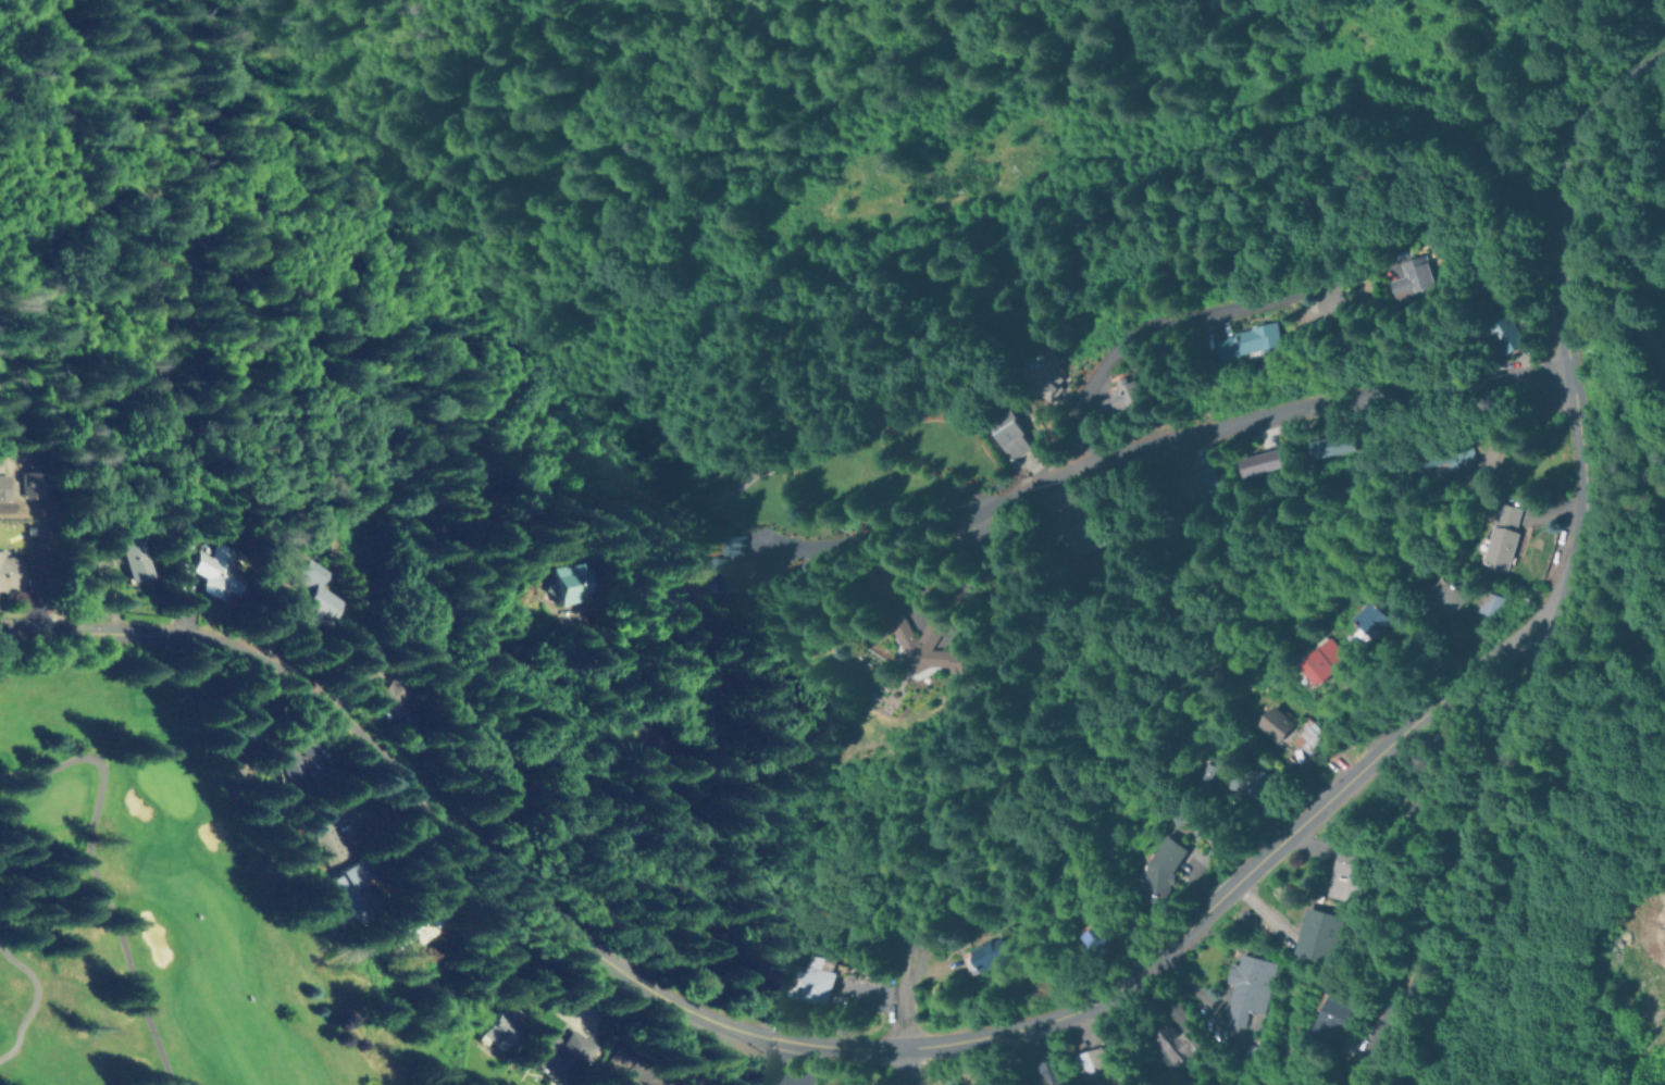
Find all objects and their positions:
building: (1405, 275)
building: (1492, 326)
building: (1247, 337)
building: (1044, 374)
building: (1121, 397)
road: (1229, 428)
building: (1009, 433)
building: (1328, 445)
building: (1428, 454)
building: (1259, 459)
building: (35, 484)
building: (1192, 484)
building: (4, 487)
building: (1076, 527)
building: (1490, 536)
building: (139, 550)
building: (695, 565)
road: (1549, 565)
building: (229, 566)
building: (8, 570)
building: (563, 579)
building: (341, 593)
building: (1428, 594)
building: (1479, 601)
building: (1359, 618)
building: (919, 644)
building: (1308, 668)
building: (418, 703)
building: (246, 715)
building: (1268, 722)
building: (1303, 735)
building: (310, 740)
building: (293, 769)
building: (1248, 782)
building: (1400, 806)
road: (510, 811)
building: (321, 825)
building: (1154, 865)
building: (1342, 873)
building: (348, 886)
park: (146, 900)
building: (420, 920)
building: (1310, 933)
building: (1083, 938)
building: (680, 944)
building: (980, 947)
building: (798, 978)
building: (1234, 985)
road: (900, 1005)
building: (1322, 1020)
building: (501, 1027)
road: (767, 1034)
building: (1166, 1042)
building: (557, 1055)
road: (905, 1065)
building: (1079, 1067)
building: (617, 1069)
building: (1034, 1073)

